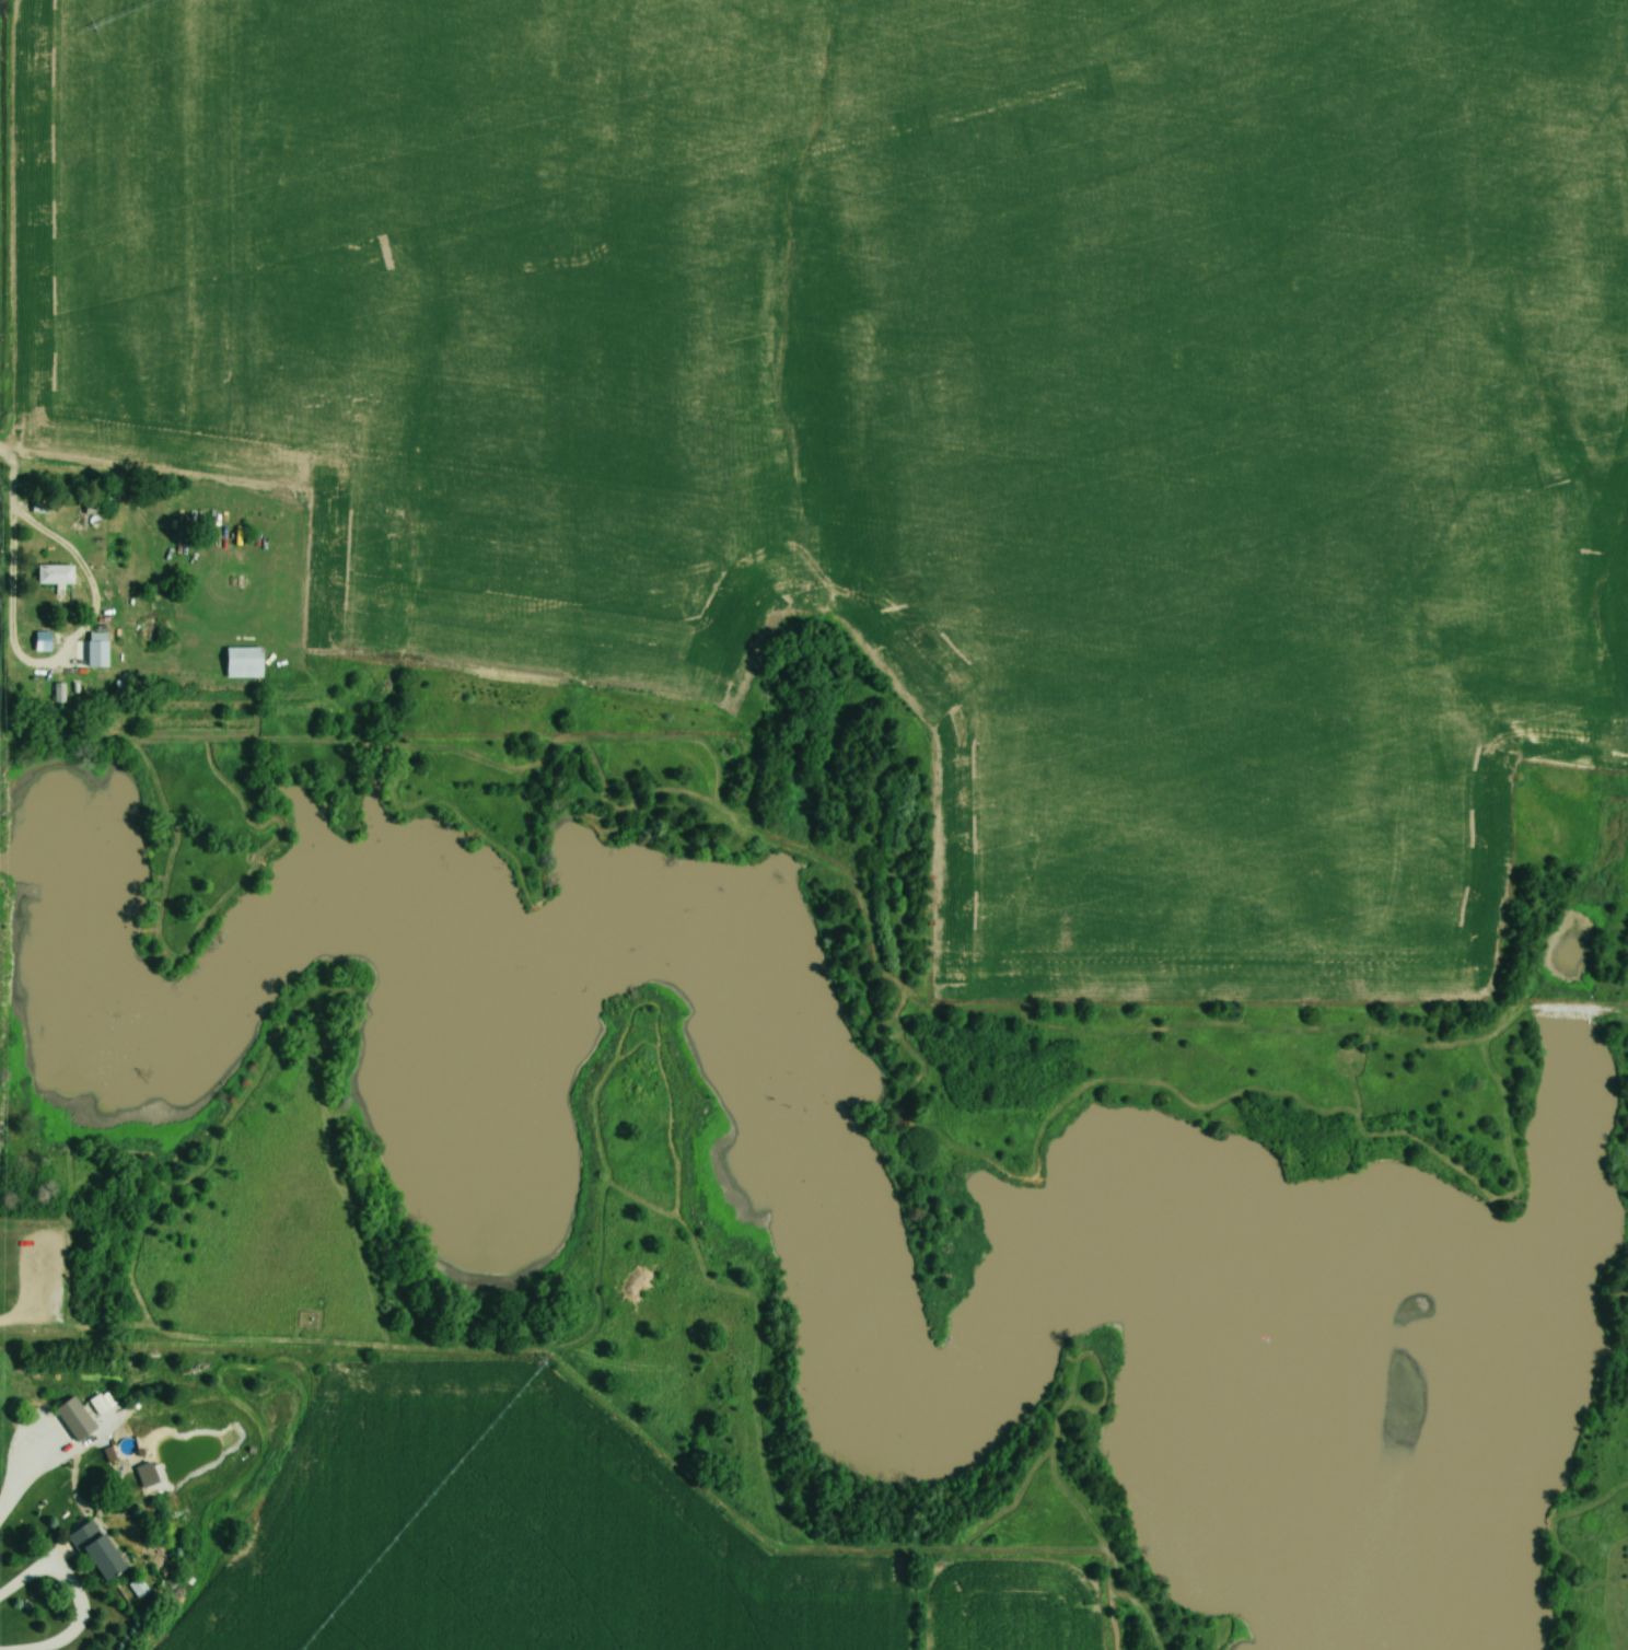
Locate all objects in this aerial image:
road: (5, 480)
building: (51, 577)
building: (89, 646)
building: (34, 647)
building: (251, 649)
building: (240, 663)
road: (16, 666)
road: (1234, 1084)
building: (127, 1473)
crop: (510, 1537)
building: (93, 1549)
road: (67, 1589)

